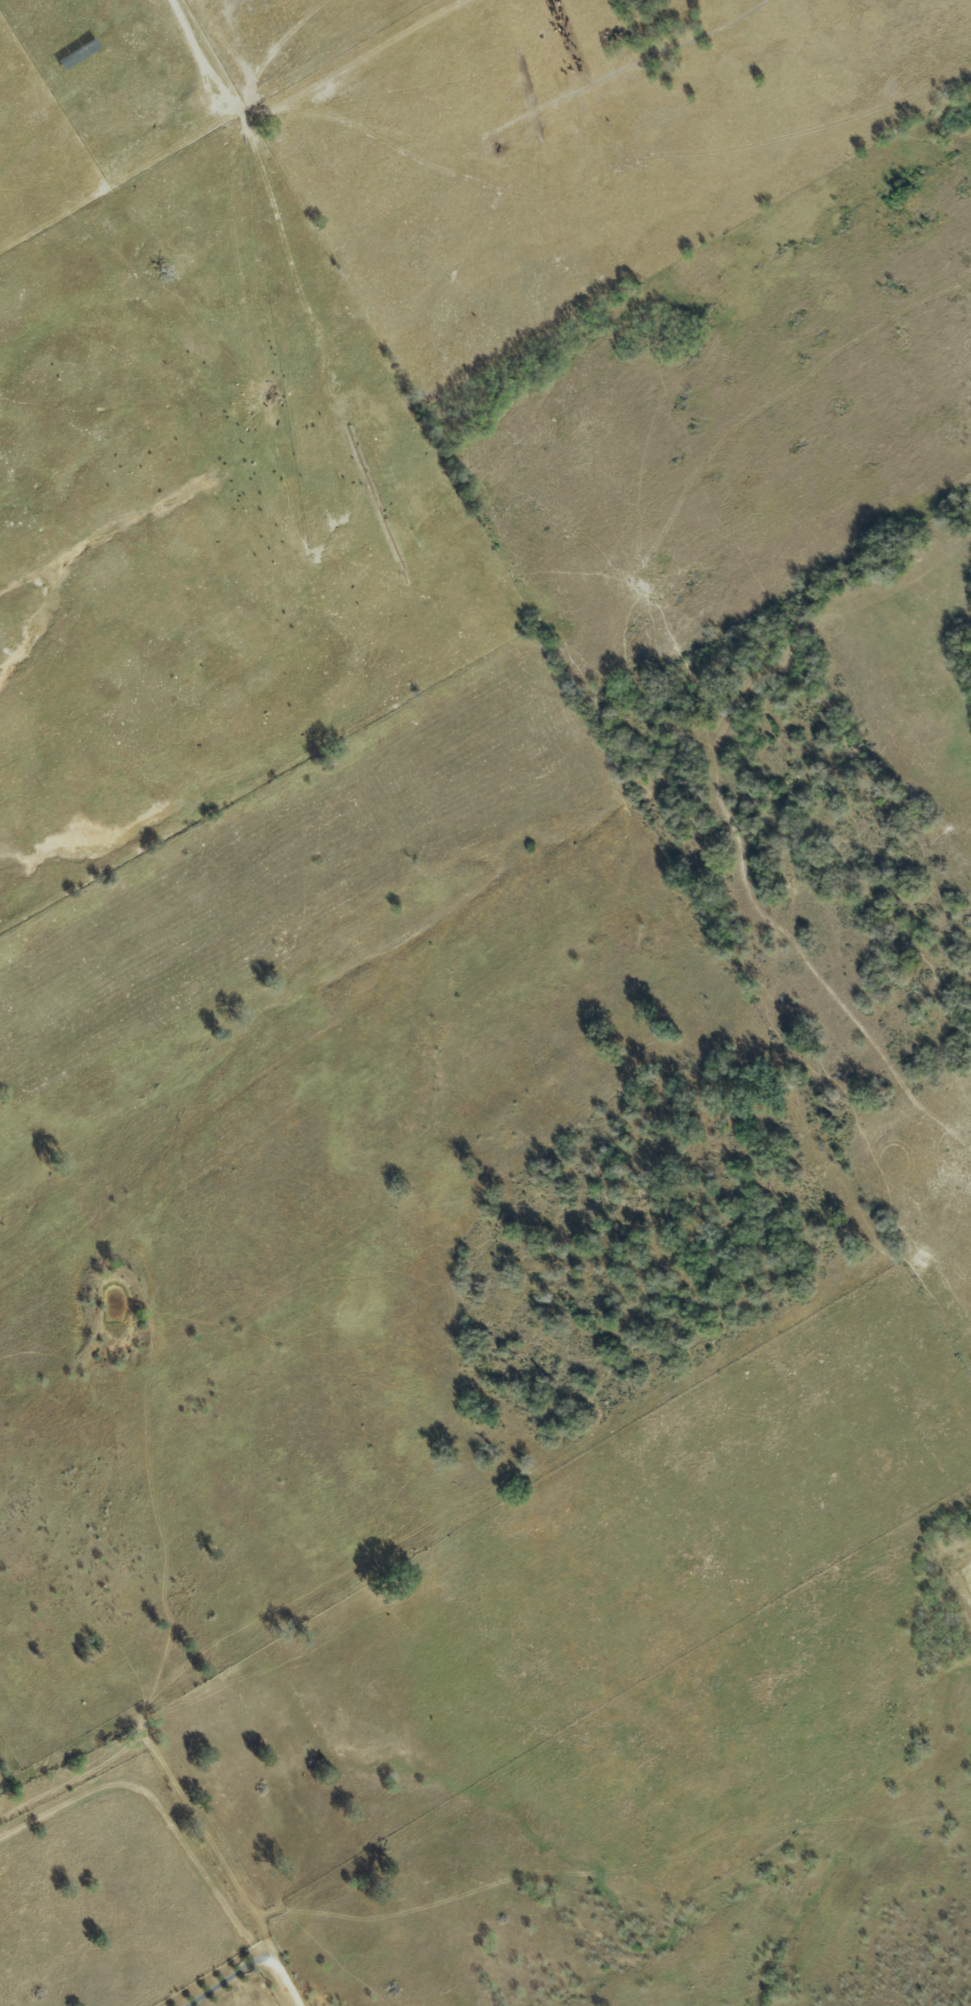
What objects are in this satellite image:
road: (157, 1804)
road: (226, 1977)
road: (284, 1982)

